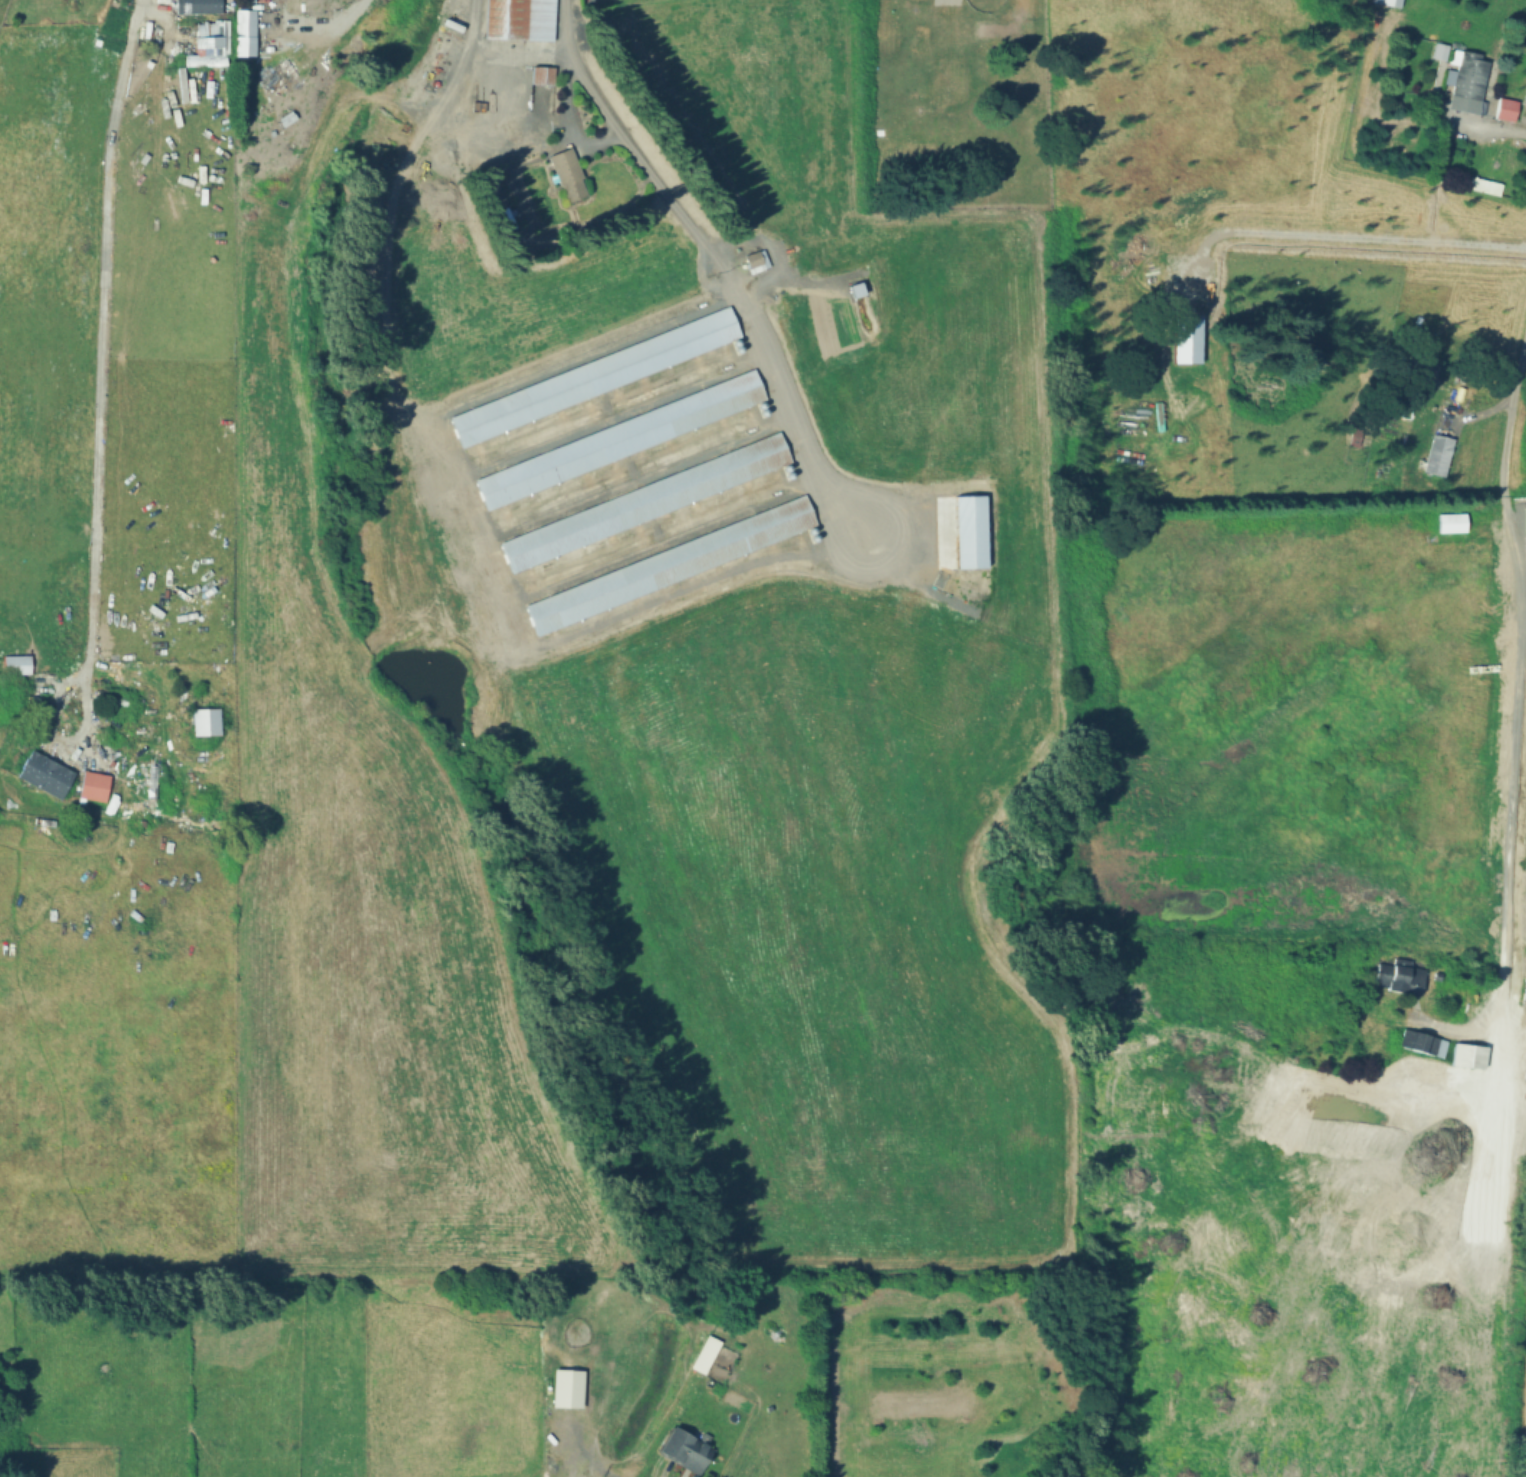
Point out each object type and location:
building: (1385, 3)
building: (1, 5)
building: (194, 6)
building: (516, 19)
building: (242, 32)
road: (320, 36)
building: (204, 45)
building: (539, 76)
building: (274, 77)
building: (1465, 83)
building: (1503, 108)
road: (1494, 126)
building: (564, 174)
building: (1480, 185)
building: (753, 260)
building: (851, 289)
road: (98, 371)
building: (591, 375)
building: (616, 439)
building: (639, 503)
building: (1447, 523)
building: (966, 532)
building: (667, 563)
road: (632, 612)
road: (1523, 643)
building: (13, 665)
building: (203, 721)
crop: (666, 730)
crop: (109, 735)
building: (42, 774)
building: (90, 786)
building: (1396, 977)
building: (1466, 1053)
building: (701, 1355)
building: (681, 1450)

